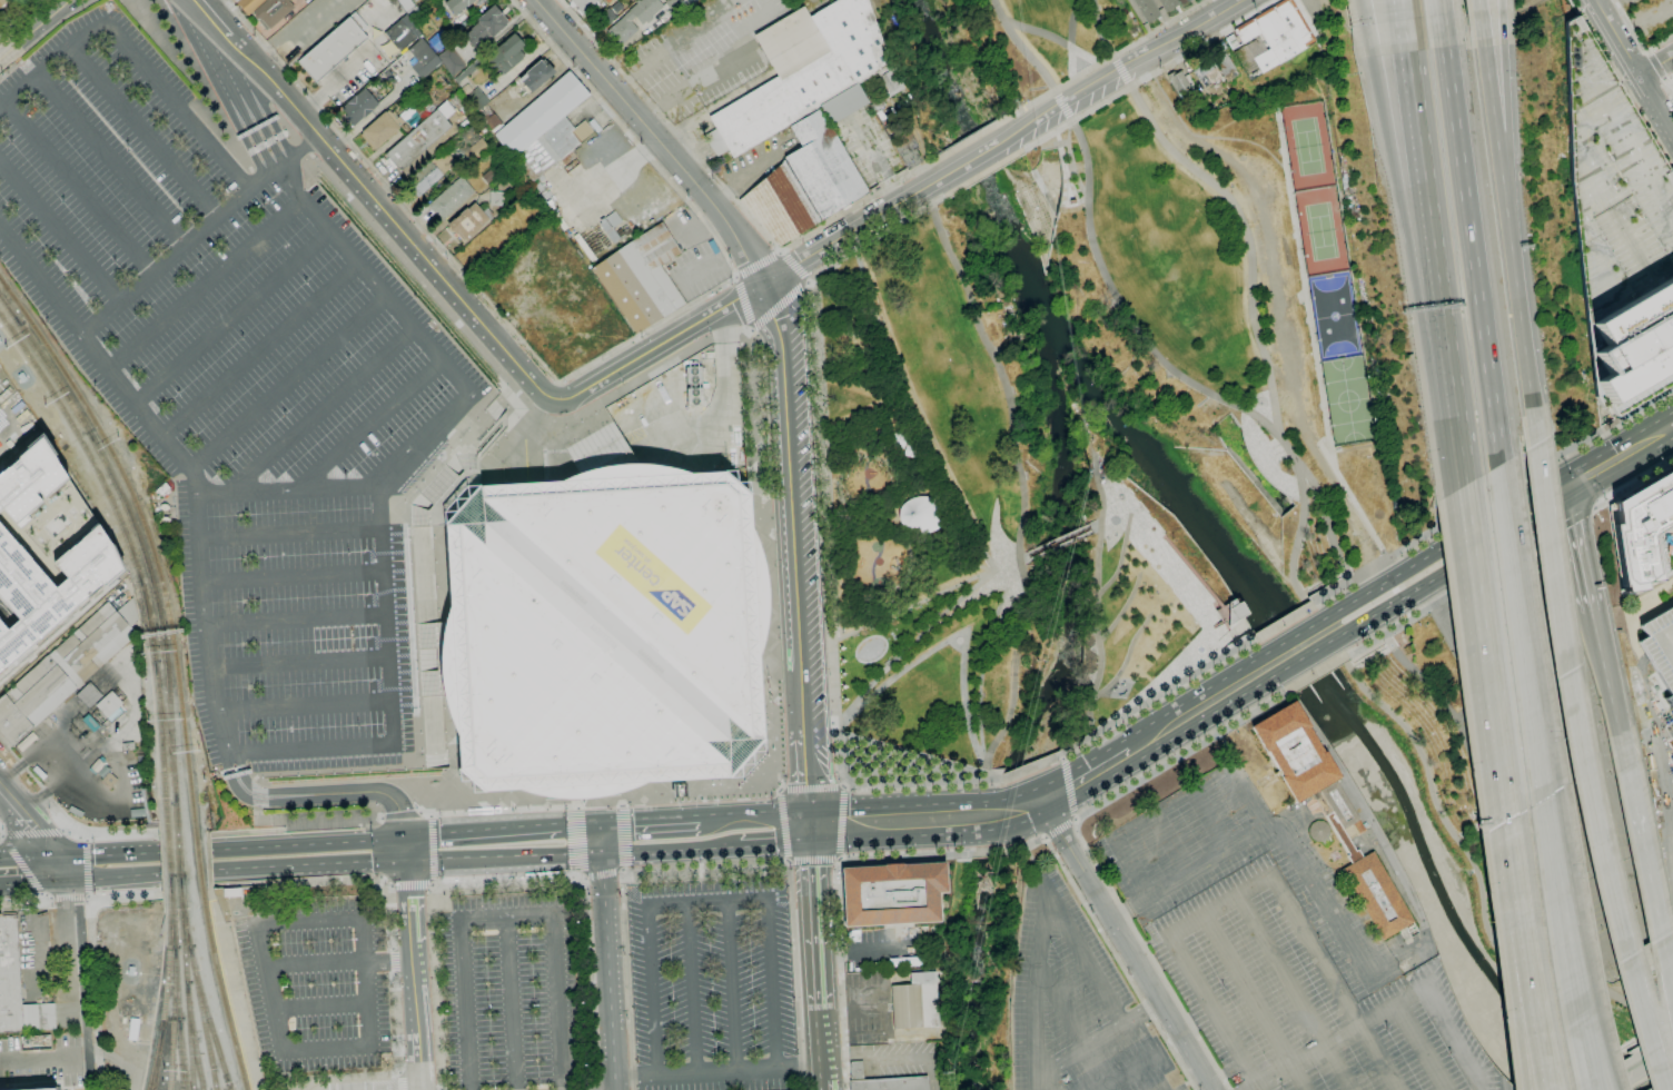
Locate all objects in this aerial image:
building: (1184, 1)
building: (2, 2)
building: (249, 4)
building: (405, 4)
building: (583, 4)
building: (1168, 4)
road: (1499, 4)
building: (457, 6)
building: (674, 6)
road: (1477, 6)
building: (616, 7)
road: (1438, 7)
building: (1147, 9)
road: (1405, 9)
building: (271, 11)
road: (1363, 11)
building: (413, 12)
building: (608, 17)
road: (20, 18)
road: (212, 19)
building: (623, 22)
building: (486, 26)
road: (34, 30)
road: (1101, 30)
building: (1277, 33)
building: (400, 34)
road: (1052, 38)
road: (1071, 39)
road: (1621, 39)
road: (1639, 39)
road: (1202, 43)
road: (1024, 47)
building: (333, 49)
building: (506, 54)
road: (131, 56)
building: (423, 58)
road: (1108, 58)
building: (452, 60)
road: (1126, 61)
building: (1214, 68)
road: (1655, 68)
road: (1659, 68)
road: (28, 69)
road: (10, 70)
building: (802, 71)
road: (1120, 71)
building: (536, 76)
road: (1669, 80)
building: (890, 82)
road: (235, 85)
building: (1180, 85)
road: (1622, 85)
road: (205, 86)
road: (1669, 89)
road: (1505, 96)
road: (1058, 97)
road: (1491, 97)
building: (476, 99)
road: (1659, 102)
building: (843, 103)
building: (358, 107)
road: (1065, 109)
road: (1076, 119)
building: (492, 120)
toll booth: (257, 129)
building: (380, 129)
building: (546, 129)
road: (145, 132)
building: (420, 136)
road: (1206, 136)
road: (655, 138)
road: (969, 139)
park: (1307, 146)
road: (307, 150)
building: (476, 150)
road: (976, 157)
road: (111, 161)
road: (875, 162)
building: (823, 167)
building: (430, 171)
road: (982, 175)
building: (489, 176)
road: (256, 178)
road: (79, 188)
road: (726, 189)
building: (1613, 191)
parking lot: (1613, 191)
building: (451, 198)
building: (497, 198)
building: (780, 205)
road: (392, 220)
building: (468, 221)
building: (610, 225)
park: (1320, 230)
road: (59, 232)
road: (849, 232)
road: (199, 235)
road: (1247, 237)
road: (1469, 238)
road: (1436, 241)
building: (584, 247)
road: (1405, 248)
road: (780, 251)
road: (758, 264)
road: (794, 266)
road: (735, 276)
building: (641, 278)
road: (809, 281)
road: (206, 284)
road: (743, 303)
road: (779, 306)
road: (1123, 308)
railway: (9, 309)
railway: (9, 311)
road: (1519, 311)
park: (1334, 315)
road: (232, 316)
road: (749, 333)
road: (1313, 340)
road: (657, 346)
building: (1636, 348)
road: (260, 349)
road: (582, 366)
road: (502, 374)
railway: (52, 376)
road: (289, 384)
parking lot: (237, 387)
building: (6, 394)
park: (1347, 399)
road: (319, 412)
road: (912, 414)
road: (368, 425)
railway: (80, 443)
road: (1287, 447)
railway: (108, 449)
road: (1621, 455)
power tower: (1089, 470)
road: (1099, 473)
road: (1468, 473)
road: (1021, 480)
road: (379, 484)
traffic signals: (1570, 485)
road: (1632, 485)
building: (162, 488)
park: (1177, 488)
road: (286, 489)
road: (790, 495)
road: (1493, 497)
railway: (118, 504)
park: (1003, 514)
building: (922, 515)
road: (1303, 517)
road: (1575, 521)
road: (1093, 522)
road: (1329, 527)
road: (1095, 528)
building: (1642, 531)
railway: (135, 533)
road: (825, 533)
road: (289, 534)
road: (992, 536)
road: (1057, 538)
road: (907, 541)
road: (1059, 544)
road: (1444, 547)
road: (1583, 547)
building: (44, 549)
road: (1021, 555)
river: (1240, 555)
road: (1120, 556)
road: (1152, 556)
road: (1023, 561)
road: (1165, 562)
road: (1455, 566)
road: (1142, 567)
road: (291, 576)
road: (900, 577)
road: (200, 578)
road: (1172, 582)
road: (1451, 591)
building: (1212, 593)
road: (1096, 595)
road: (924, 598)
road: (1158, 599)
road: (1121, 611)
road: (295, 620)
railway: (147, 621)
road: (1285, 622)
building: (597, 624)
stadium: (597, 624)
road: (1294, 636)
road: (1329, 637)
road: (910, 642)
road: (954, 644)
building: (1661, 647)
parking garage: (1661, 647)
building: (1407, 648)
road: (1305, 655)
building: (1410, 658)
power tower: (1040, 660)
road: (1123, 661)
road: (297, 664)
road: (981, 666)
building: (65, 670)
road: (899, 672)
road: (1136, 672)
road: (1316, 673)
flagpole: (769, 676)
flagpole: (1125, 683)
flagpole: (1118, 685)
road: (1156, 687)
flagpole: (769, 688)
road: (1611, 688)
flagpole: (1113, 690)
road: (1495, 694)
building: (89, 695)
road: (1196, 695)
flagpole: (1125, 697)
road: (1156, 698)
flagpole: (770, 701)
building: (108, 704)
road: (301, 706)
road: (963, 707)
railway: (169, 722)
building: (90, 723)
railway: (165, 732)
railway: (184, 735)
road: (1165, 741)
building: (28, 743)
road: (778, 743)
road: (1113, 745)
road: (1538, 745)
building: (128, 746)
railway: (160, 746)
building: (1295, 751)
road: (911, 752)
road: (1180, 754)
road: (1063, 756)
road: (59, 759)
road: (804, 760)
building: (97, 765)
road: (1076, 769)
road: (1586, 769)
toll booth: (234, 770)
road: (1027, 770)
building: (103, 771)
building: (109, 781)
road: (1045, 783)
road: (812, 789)
road: (1069, 789)
road: (420, 791)
road: (1017, 794)
road: (258, 795)
road: (1248, 797)
road: (621, 804)
road: (900, 805)
road: (574, 806)
building: (1340, 806)
road: (1635, 810)
building: (76, 811)
building: (141, 812)
traffic signals: (809, 812)
road: (65, 814)
road: (402, 815)
road: (430, 815)
road: (753, 815)
road: (1038, 815)
railway: (175, 817)
railway: (888, 817)
railway: (888, 819)
road: (1075, 820)
road: (1209, 821)
road: (29, 822)
road: (270, 822)
toll booth: (273, 822)
road: (650, 822)
road: (841, 822)
road: (1446, 823)
road: (784, 824)
road: (577, 825)
traffic signals: (602, 825)
road: (1003, 826)
road: (810, 828)
road: (1060, 828)
building: (1337, 828)
road: (68, 829)
road: (296, 829)
building: (1319, 831)
road: (478, 832)
road: (30, 833)
road: (0, 834)
road: (85, 835)
road: (184, 835)
traffic signals: (404, 838)
road: (622, 838)
road: (897, 838)
road: (1047, 838)
road: (1513, 838)
road: (602, 839)
road: (1290, 840)
road: (576, 841)
road: (306, 843)
road: (1027, 843)
traffic signals: (812, 844)
road: (1170, 844)
road: (776, 845)
road: (405, 849)
road: (433, 849)
road: (672, 849)
road: (184, 850)
road: (992, 851)
traffic signals: (603, 852)
road: (109, 854)
road: (504, 855)
railway: (167, 856)
traffic signals: (59, 858)
road: (29, 859)
road: (813, 859)
railway: (197, 860)
traffic signals: (407, 860)
railway: (178, 861)
road: (20, 863)
road: (308, 864)
road: (712, 864)
road: (87, 866)
road: (1131, 868)
building: (1393, 868)
road: (61, 869)
road: (624, 869)
road: (185, 871)
road: (621, 871)
road: (577, 874)
road: (603, 874)
road: (112, 876)
road: (583, 878)
traffic signals: (65, 880)
road: (32, 882)
road: (389, 883)
road: (435, 883)
road: (412, 884)
railway: (169, 885)
railway: (169, 885)
road: (433, 885)
road: (186, 886)
road: (390, 889)
building: (231, 892)
road: (125, 893)
road: (89, 894)
road: (412, 894)
building: (893, 894)
building: (1376, 895)
road: (42, 896)
road: (86, 896)
road: (68, 898)
parking lot: (1155, 898)
railway: (216, 899)
road: (48, 900)
road: (21, 902)
road: (1220, 904)
road: (711, 905)
road: (838, 905)
road: (437, 915)
road: (512, 919)
railway: (171, 921)
railway: (185, 925)
road: (310, 925)
road: (816, 926)
road: (1659, 928)
road: (1123, 939)
road: (73, 940)
railway: (182, 941)
road: (416, 947)
road: (1149, 955)
road: (1082, 958)
road: (1120, 963)
road: (340, 965)
road: (610, 971)
railway: (166, 977)
parking lot: (316, 982)
road: (1334, 982)
road: (586, 983)
parking lot: (715, 987)
building: (18, 988)
railway: (176, 988)
road: (372, 989)
railway: (219, 990)
road: (732, 990)
road: (1035, 990)
road: (95, 992)
road: (270, 992)
road: (697, 992)
road: (1295, 992)
parking lot: (513, 997)
road: (1513, 998)
road: (1540, 998)
parking lot: (1306, 999)
railway: (172, 1000)
building: (917, 1001)
road: (1254, 1002)
road: (511, 1004)
parking lot: (1076, 1004)
road: (1059, 1005)
road: (324, 1010)
road: (1214, 1012)
road: (1591, 1023)
railway: (202, 1025)
railway: (209, 1025)
road: (420, 1027)
building: (133, 1029)
road: (1453, 1034)
road: (1672, 1035)
building: (869, 1037)
road: (1097, 1038)
road: (1336, 1039)
road: (822, 1041)
railway: (188, 1042)
railway: (192, 1042)
road: (88, 1046)
road: (1420, 1047)
road: (330, 1056)
railway: (180, 1057)
railway: (182, 1057)
road: (1588, 1058)
road: (1595, 1058)
road: (38, 1059)
road: (1626, 1063)
road: (120, 1064)
railway: (169, 1069)
building: (855, 1069)
road: (1640, 1070)
road: (400, 1072)
power tower: (941, 1073)
road: (1128, 1073)
railway: (150, 1076)
railway: (152, 1076)
road: (720, 1076)
road: (346, 1077)
road: (368, 1078)
road: (331, 1080)
road: (824, 1080)
road: (1049, 1080)
road: (402, 1082)
building: (890, 1083)
road: (1481, 1084)
road: (293, 1086)
road: (368, 1086)
road: (333, 1087)
building: (43, 1089)

